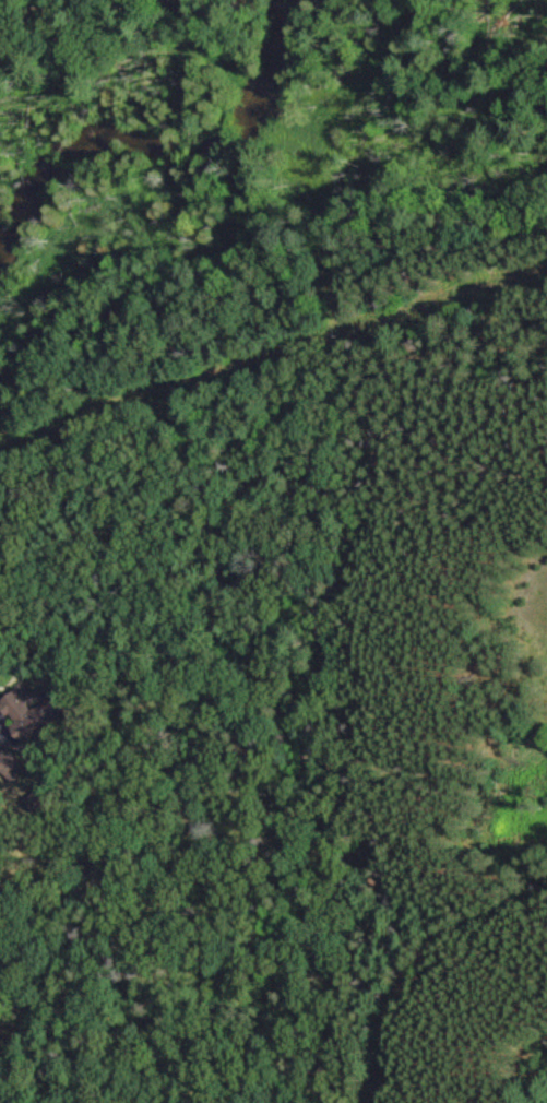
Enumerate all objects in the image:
river: (152, 135)
road: (439, 980)

